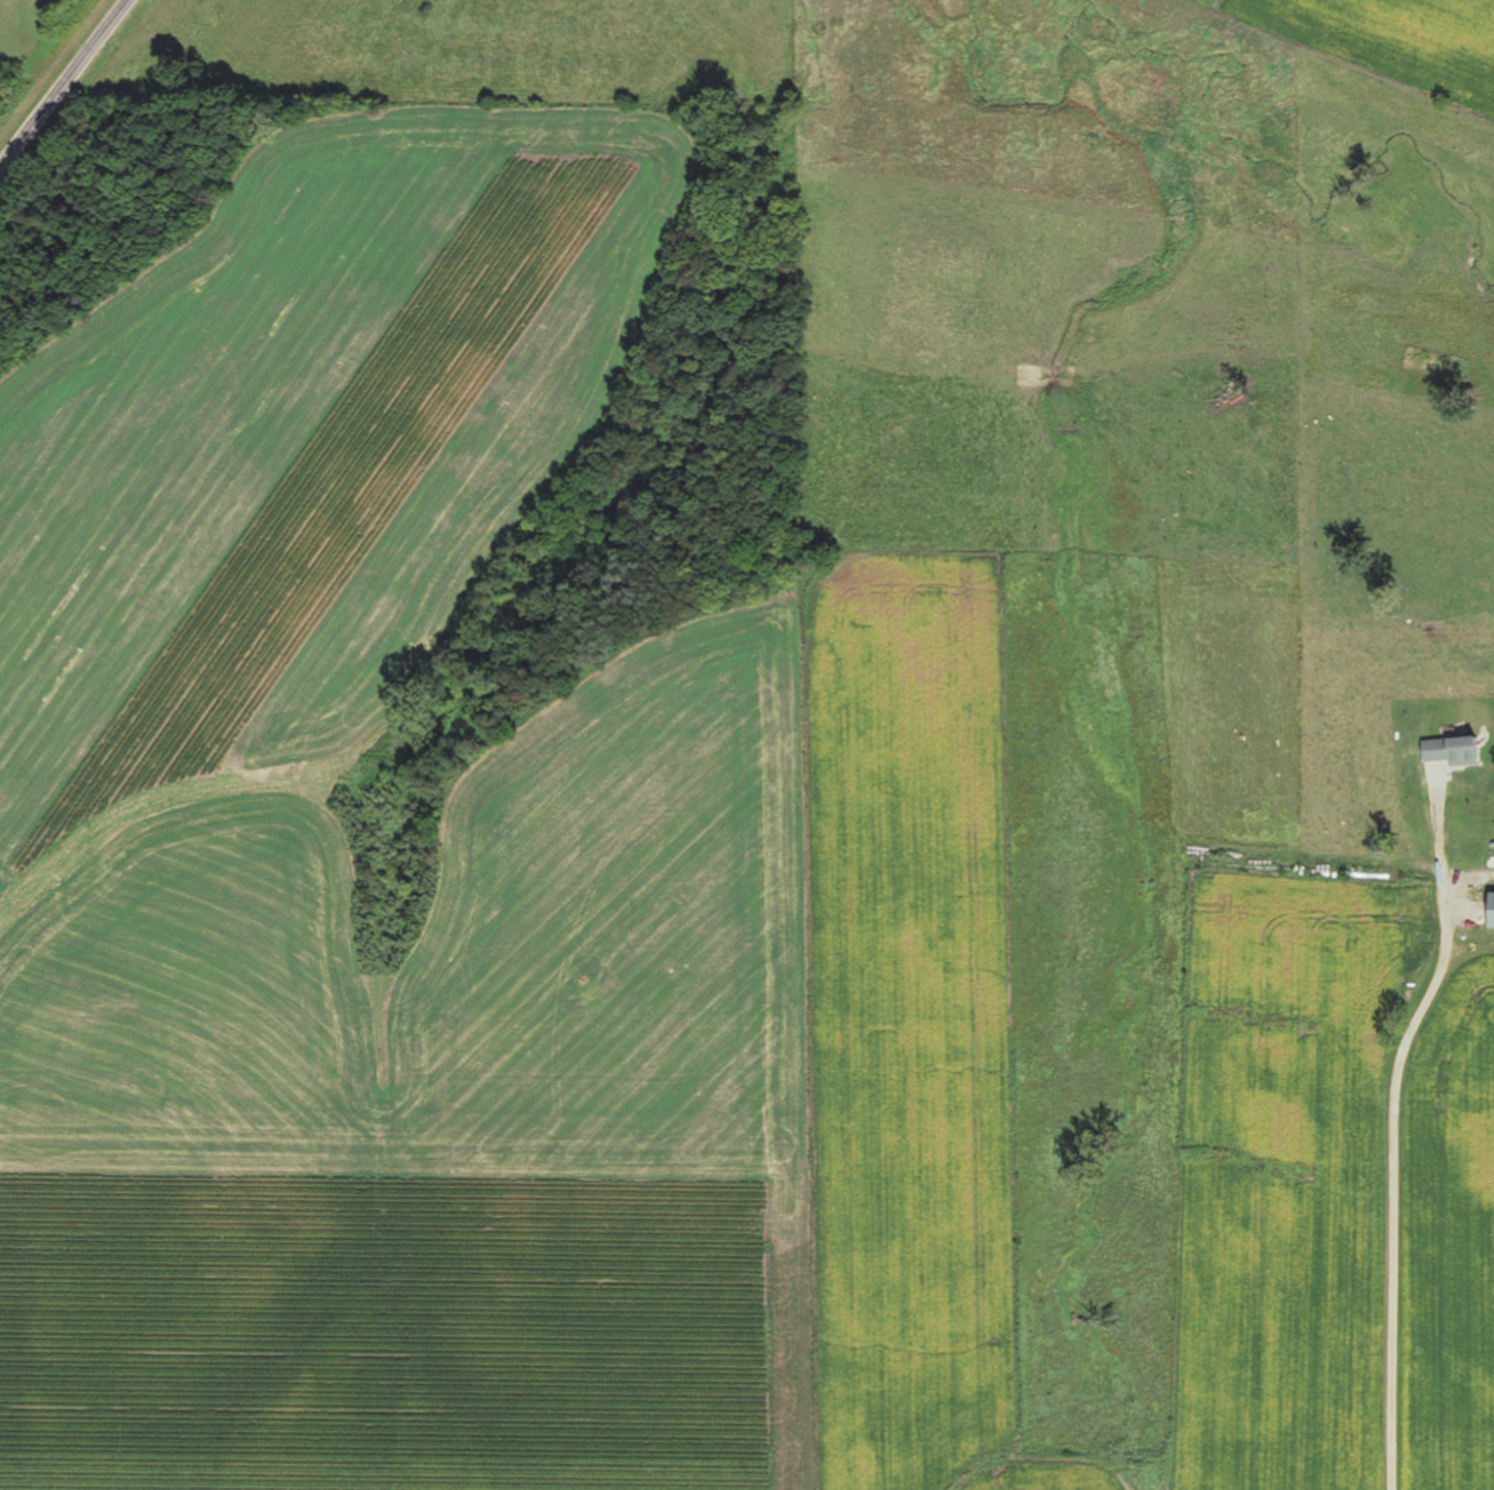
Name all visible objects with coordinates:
road: (64, 83)
building: (1446, 751)
road: (1387, 1182)

